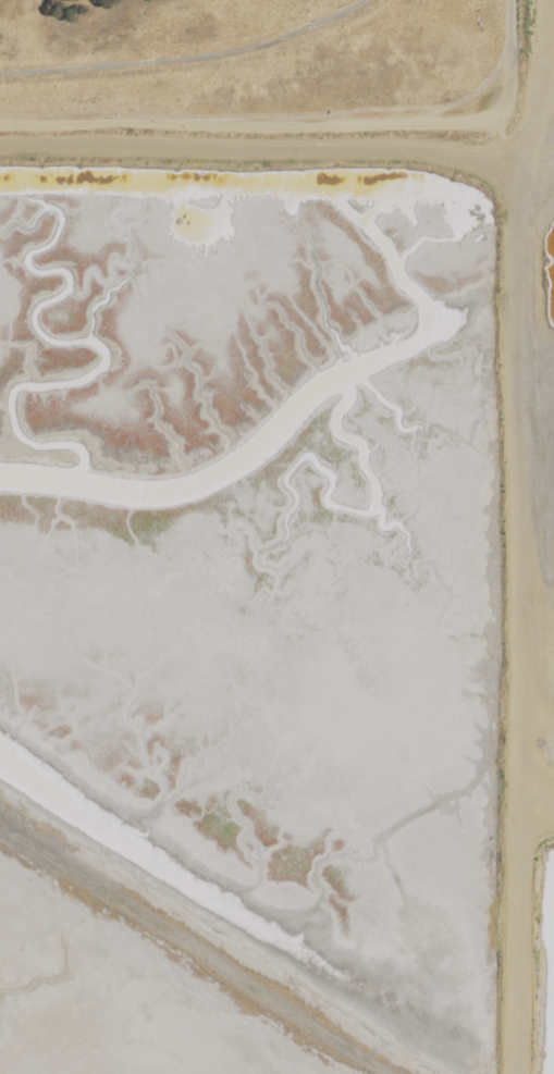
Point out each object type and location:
road: (185, 58)
park: (269, 73)
road: (308, 127)
road: (524, 620)
road: (539, 752)
road: (192, 954)

